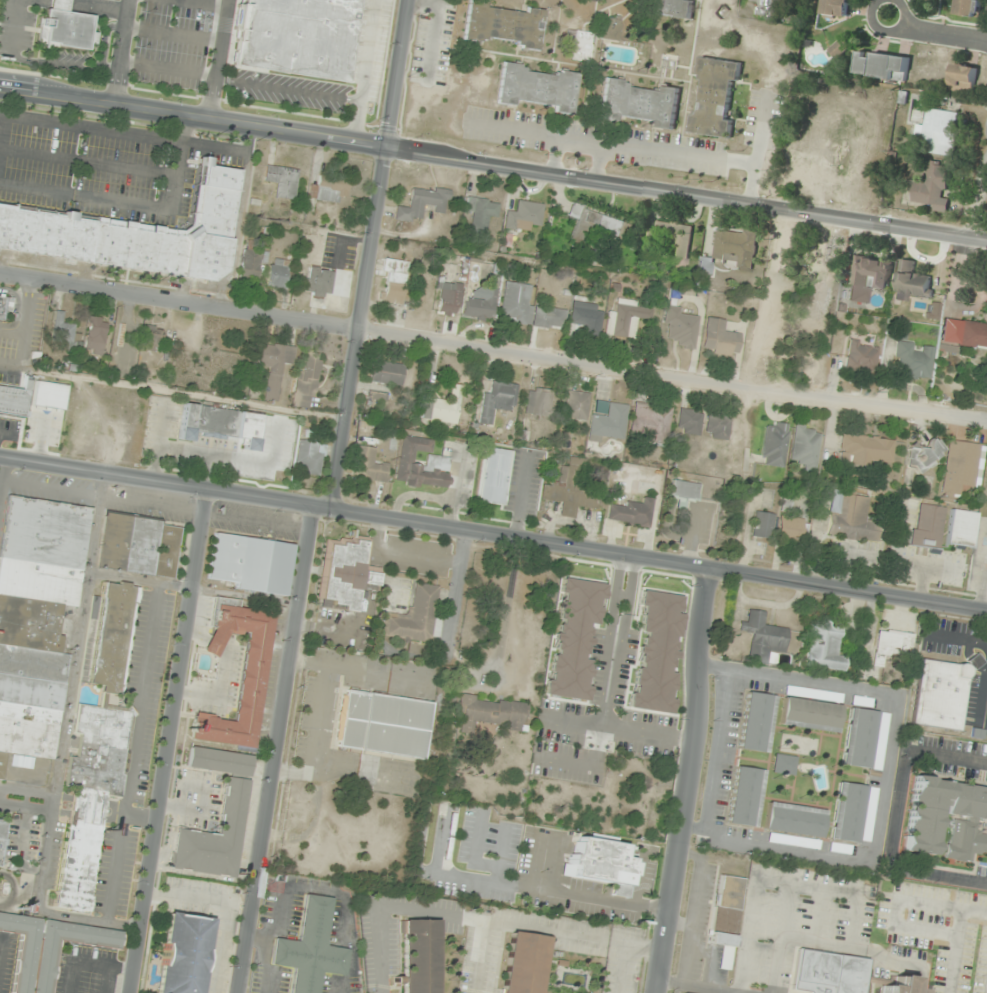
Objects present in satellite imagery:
road: (208, 2)
road: (83, 6)
building: (837, 7)
building: (673, 8)
building: (971, 8)
building: (503, 24)
building: (63, 27)
building: (611, 28)
road: (885, 31)
road: (172, 34)
road: (936, 36)
building: (294, 37)
road: (105, 39)
building: (580, 45)
building: (841, 48)
road: (119, 51)
road: (218, 59)
road: (35, 62)
building: (882, 66)
road: (167, 69)
road: (365, 71)
building: (963, 79)
building: (539, 88)
road: (288, 89)
building: (716, 98)
building: (641, 103)
building: (939, 132)
road: (755, 150)
road: (493, 163)
building: (283, 181)
building: (329, 188)
building: (934, 188)
building: (423, 204)
road: (981, 206)
building: (482, 215)
building: (525, 216)
building: (598, 230)
building: (135, 232)
building: (673, 240)
building: (736, 249)
road: (370, 254)
building: (279, 273)
building: (869, 277)
building: (320, 282)
building: (912, 282)
building: (394, 287)
building: (450, 298)
building: (5, 304)
building: (480, 304)
building: (528, 309)
building: (587, 316)
building: (626, 318)
building: (681, 327)
building: (62, 328)
building: (96, 335)
building: (972, 335)
building: (152, 338)
building: (720, 339)
road: (493, 347)
building: (862, 357)
building: (914, 361)
building: (274, 366)
building: (388, 373)
building: (308, 380)
road: (183, 392)
building: (15, 399)
building: (497, 400)
building: (539, 402)
building: (379, 403)
building: (577, 405)
building: (442, 407)
building: (652, 421)
building: (689, 421)
building: (208, 422)
building: (717, 426)
building: (775, 444)
building: (806, 447)
building: (866, 450)
building: (923, 455)
building: (422, 464)
building: (369, 466)
building: (960, 468)
road: (4, 470)
building: (493, 476)
road: (1, 484)
road: (102, 486)
building: (572, 488)
road: (51, 489)
building: (685, 490)
building: (786, 502)
road: (153, 506)
building: (631, 512)
building: (851, 517)
building: (763, 525)
building: (928, 525)
building: (792, 528)
building: (961, 528)
road: (493, 534)
building: (139, 545)
building: (250, 563)
building: (344, 573)
road: (125, 576)
building: (415, 615)
building: (36, 617)
building: (573, 636)
building: (763, 637)
building: (824, 645)
building: (890, 646)
building: (656, 650)
road: (611, 660)
building: (975, 661)
building: (250, 685)
road: (223, 690)
building: (812, 694)
building: (939, 695)
building: (859, 701)
building: (492, 712)
building: (809, 713)
building: (382, 722)
building: (755, 722)
road: (617, 729)
road: (137, 736)
building: (857, 737)
building: (878, 741)
road: (171, 742)
road: (717, 749)
road: (281, 750)
road: (60, 757)
road: (567, 761)
building: (782, 763)
road: (883, 777)
road: (688, 781)
road: (27, 791)
building: (744, 795)
building: (234, 800)
road: (26, 806)
building: (846, 812)
building: (867, 814)
road: (894, 817)
building: (921, 817)
building: (793, 818)
building: (2, 837)
road: (20, 840)
building: (792, 840)
building: (838, 848)
building: (79, 850)
building: (602, 862)
road: (776, 880)
road: (12, 890)
road: (898, 899)
road: (692, 910)
road: (785, 910)
road: (818, 915)
building: (726, 917)
road: (477, 919)
road: (680, 922)
road: (0, 939)
road: (835, 945)
building: (47, 947)
building: (310, 948)
road: (955, 951)
building: (183, 953)
building: (418, 955)
road: (480, 957)
road: (710, 959)
building: (521, 961)
road: (89, 963)
road: (621, 969)
building: (859, 977)
road: (107, 979)
road: (697, 986)
road: (677, 988)
building: (682, 992)

